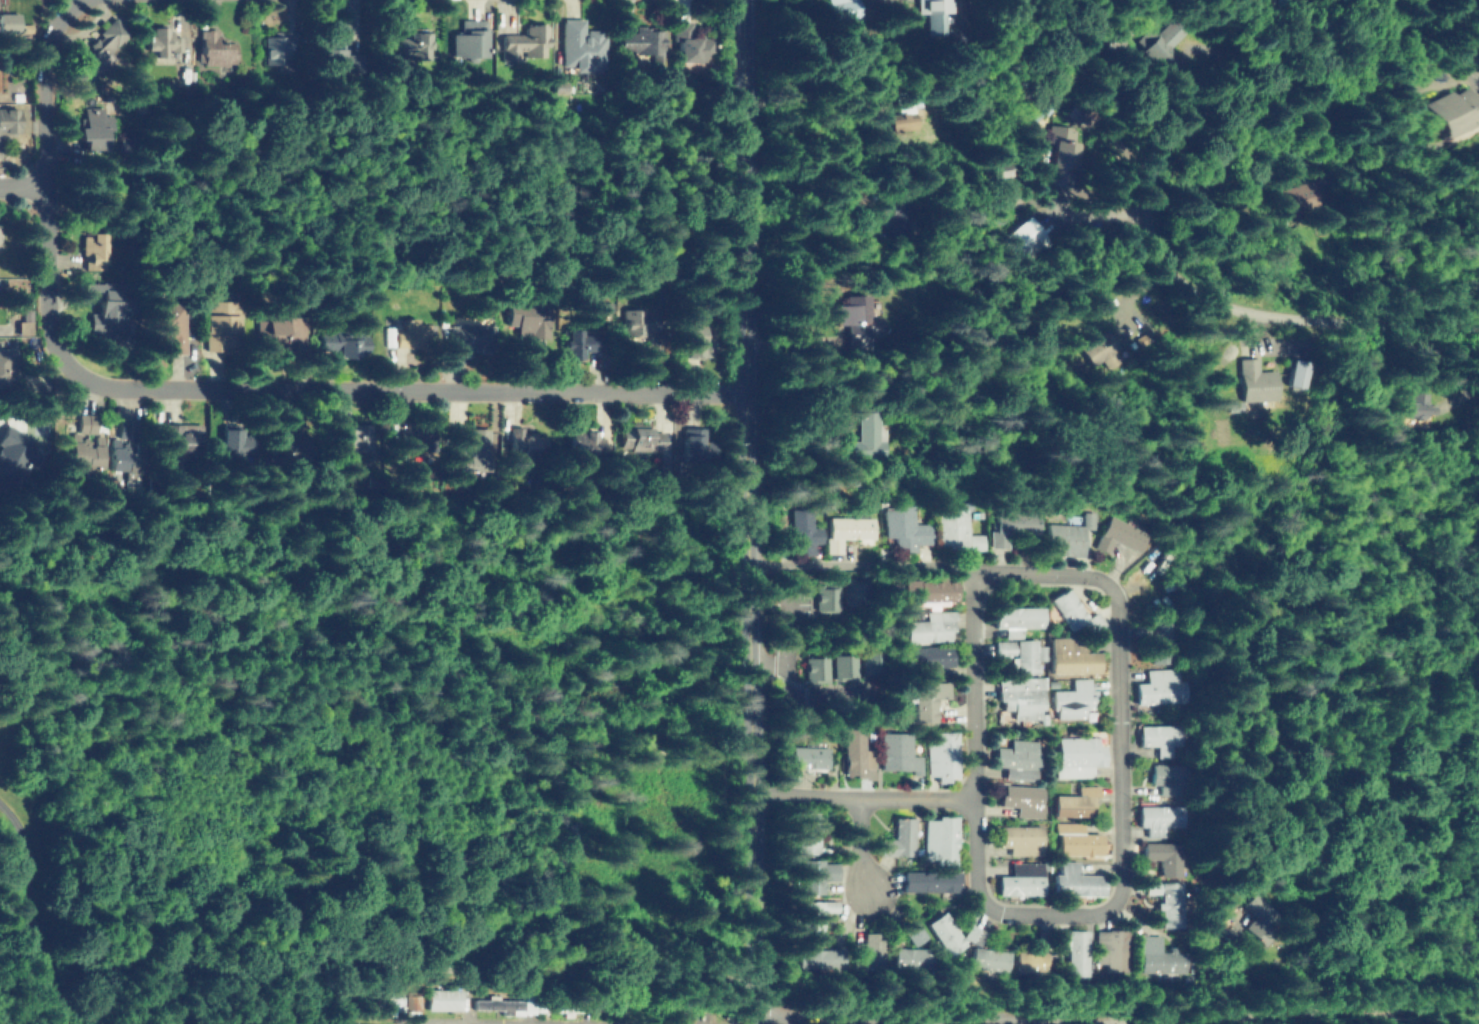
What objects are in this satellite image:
building: (842, 10)
building: (933, 14)
building: (8, 24)
building: (465, 37)
building: (642, 39)
building: (156, 40)
building: (522, 42)
building: (689, 42)
building: (411, 43)
building: (275, 44)
building: (97, 45)
building: (1160, 45)
building: (213, 47)
building: (582, 48)
building: (331, 58)
building: (1464, 112)
building: (8, 118)
building: (898, 119)
building: (93, 127)
building: (1061, 155)
road: (23, 184)
building: (1306, 200)
road: (1085, 208)
building: (896, 215)
road: (1151, 234)
building: (1019, 237)
building: (90, 248)
building: (104, 309)
building: (526, 316)
building: (219, 318)
building: (633, 318)
building: (856, 321)
building: (21, 322)
building: (170, 324)
building: (278, 328)
building: (469, 332)
building: (406, 334)
building: (693, 339)
building: (343, 340)
building: (575, 342)
building: (1098, 348)
building: (4, 364)
building: (1296, 375)
building: (1254, 382)
road: (212, 386)
building: (1428, 405)
building: (352, 435)
building: (412, 436)
building: (871, 437)
building: (233, 438)
building: (81, 439)
building: (639, 439)
building: (169, 441)
building: (578, 442)
building: (289, 444)
building: (525, 444)
building: (691, 445)
building: (465, 450)
building: (11, 452)
building: (126, 458)
road: (749, 511)
building: (951, 522)
building: (1011, 524)
building: (903, 525)
building: (844, 529)
building: (801, 533)
building: (1068, 534)
building: (1118, 535)
road: (863, 564)
building: (931, 588)
building: (854, 594)
building: (826, 599)
building: (1074, 610)
road: (465, 616)
building: (1015, 616)
building: (933, 624)
building: (1159, 638)
building: (1021, 652)
building: (1074, 653)
building: (932, 655)
road: (657, 666)
building: (844, 668)
building: (815, 670)
building: (1161, 684)
building: (1022, 697)
building: (929, 698)
building: (1074, 698)
building: (1159, 736)
building: (896, 750)
building: (942, 752)
building: (805, 753)
building: (854, 754)
building: (1079, 755)
building: (1019, 757)
building: (1167, 777)
building: (1022, 795)
road: (1122, 795)
building: (1071, 802)
building: (1160, 817)
building: (807, 832)
building: (898, 837)
building: (1021, 838)
building: (1077, 838)
building: (941, 839)
road: (861, 844)
building: (1163, 852)
building: (814, 872)
building: (929, 878)
building: (1020, 879)
building: (1076, 880)
building: (1167, 898)
building: (815, 910)
building: (1257, 915)
building: (945, 932)
building: (916, 934)
building: (974, 934)
building: (1113, 947)
building: (1073, 949)
building: (871, 952)
building: (1158, 954)
building: (911, 956)
building: (1027, 956)
building: (989, 957)
building: (815, 958)
building: (441, 1000)
building: (504, 1001)
building: (387, 1002)
road: (309, 1004)
road: (1114, 1014)
road: (1400, 1016)
building: (369, 1019)
road: (958, 1021)

